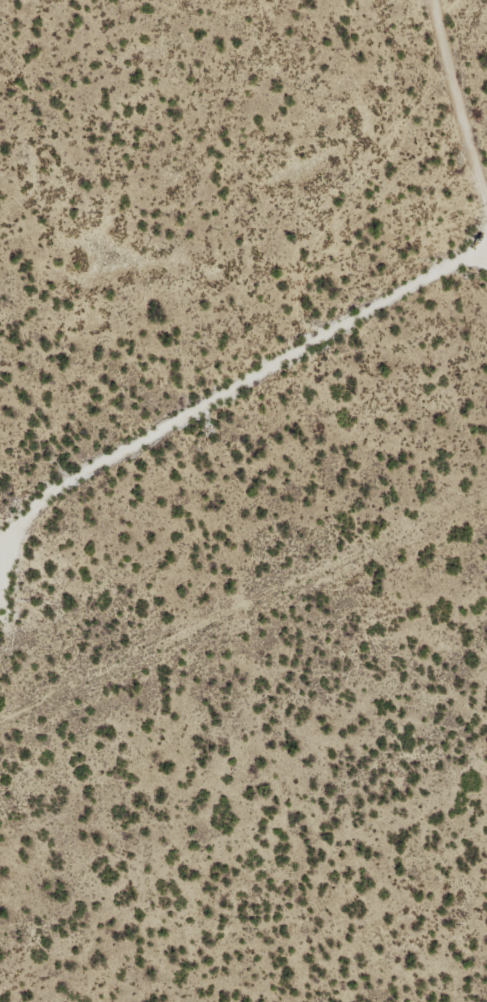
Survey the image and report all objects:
road: (455, 107)

